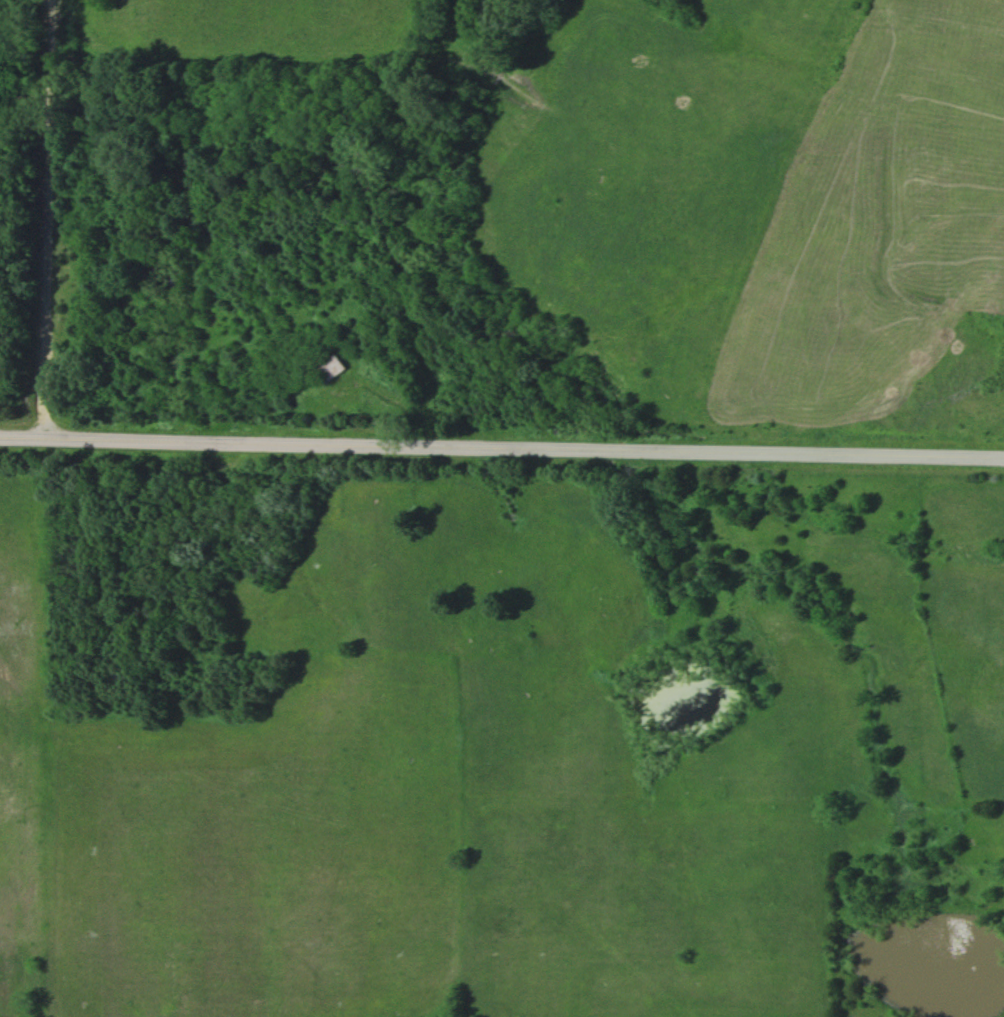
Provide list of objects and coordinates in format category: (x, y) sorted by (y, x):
road: (48, 217)
building: (334, 369)
road: (23, 435)
road: (525, 448)

